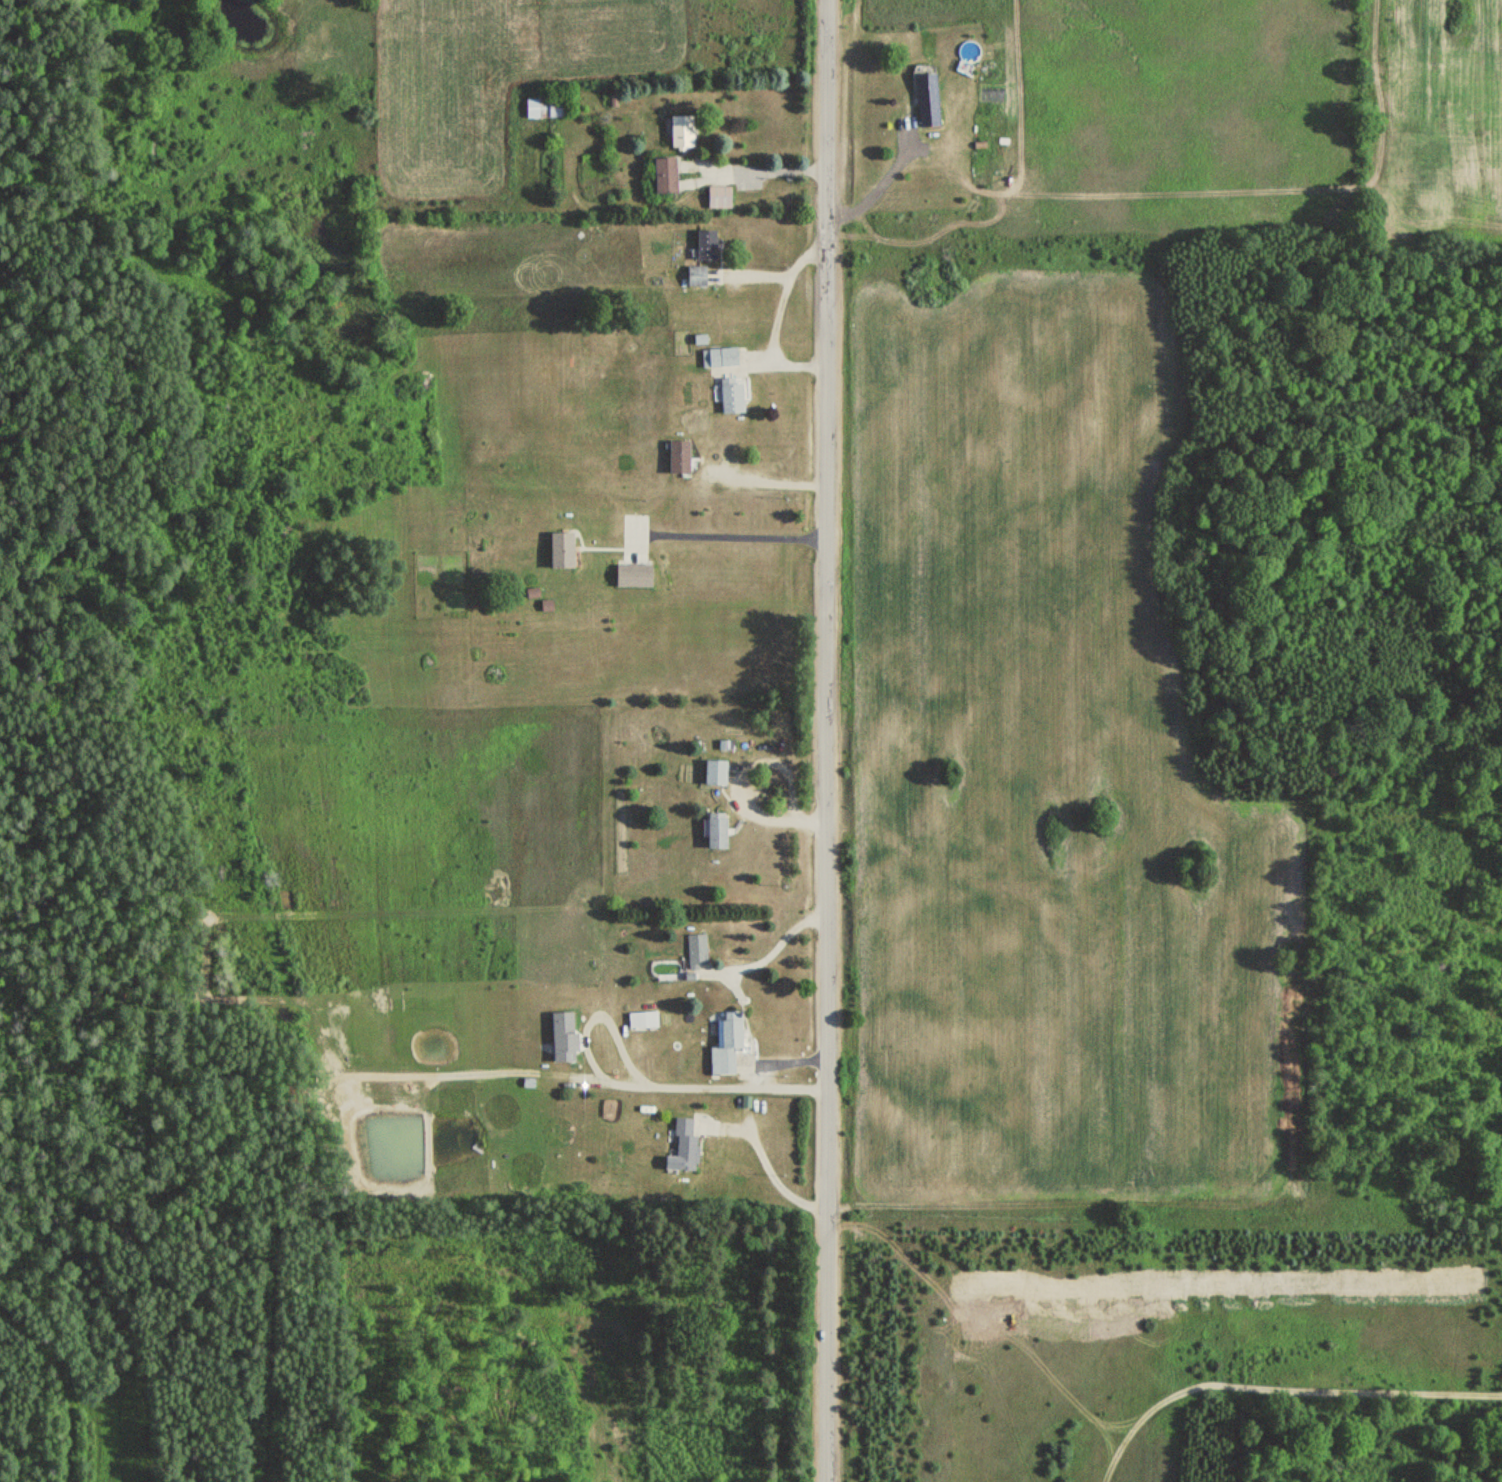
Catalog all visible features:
building: (925, 96)
building: (542, 107)
building: (677, 131)
building: (660, 174)
building: (716, 197)
building: (703, 244)
building: (693, 276)
building: (718, 357)
building: (730, 396)
building: (675, 456)
building: (556, 549)
building: (629, 575)
road: (825, 741)
building: (713, 772)
building: (713, 830)
building: (695, 951)
building: (641, 1019)
building: (561, 1036)
building: (724, 1043)
road: (704, 1088)
building: (682, 1145)

